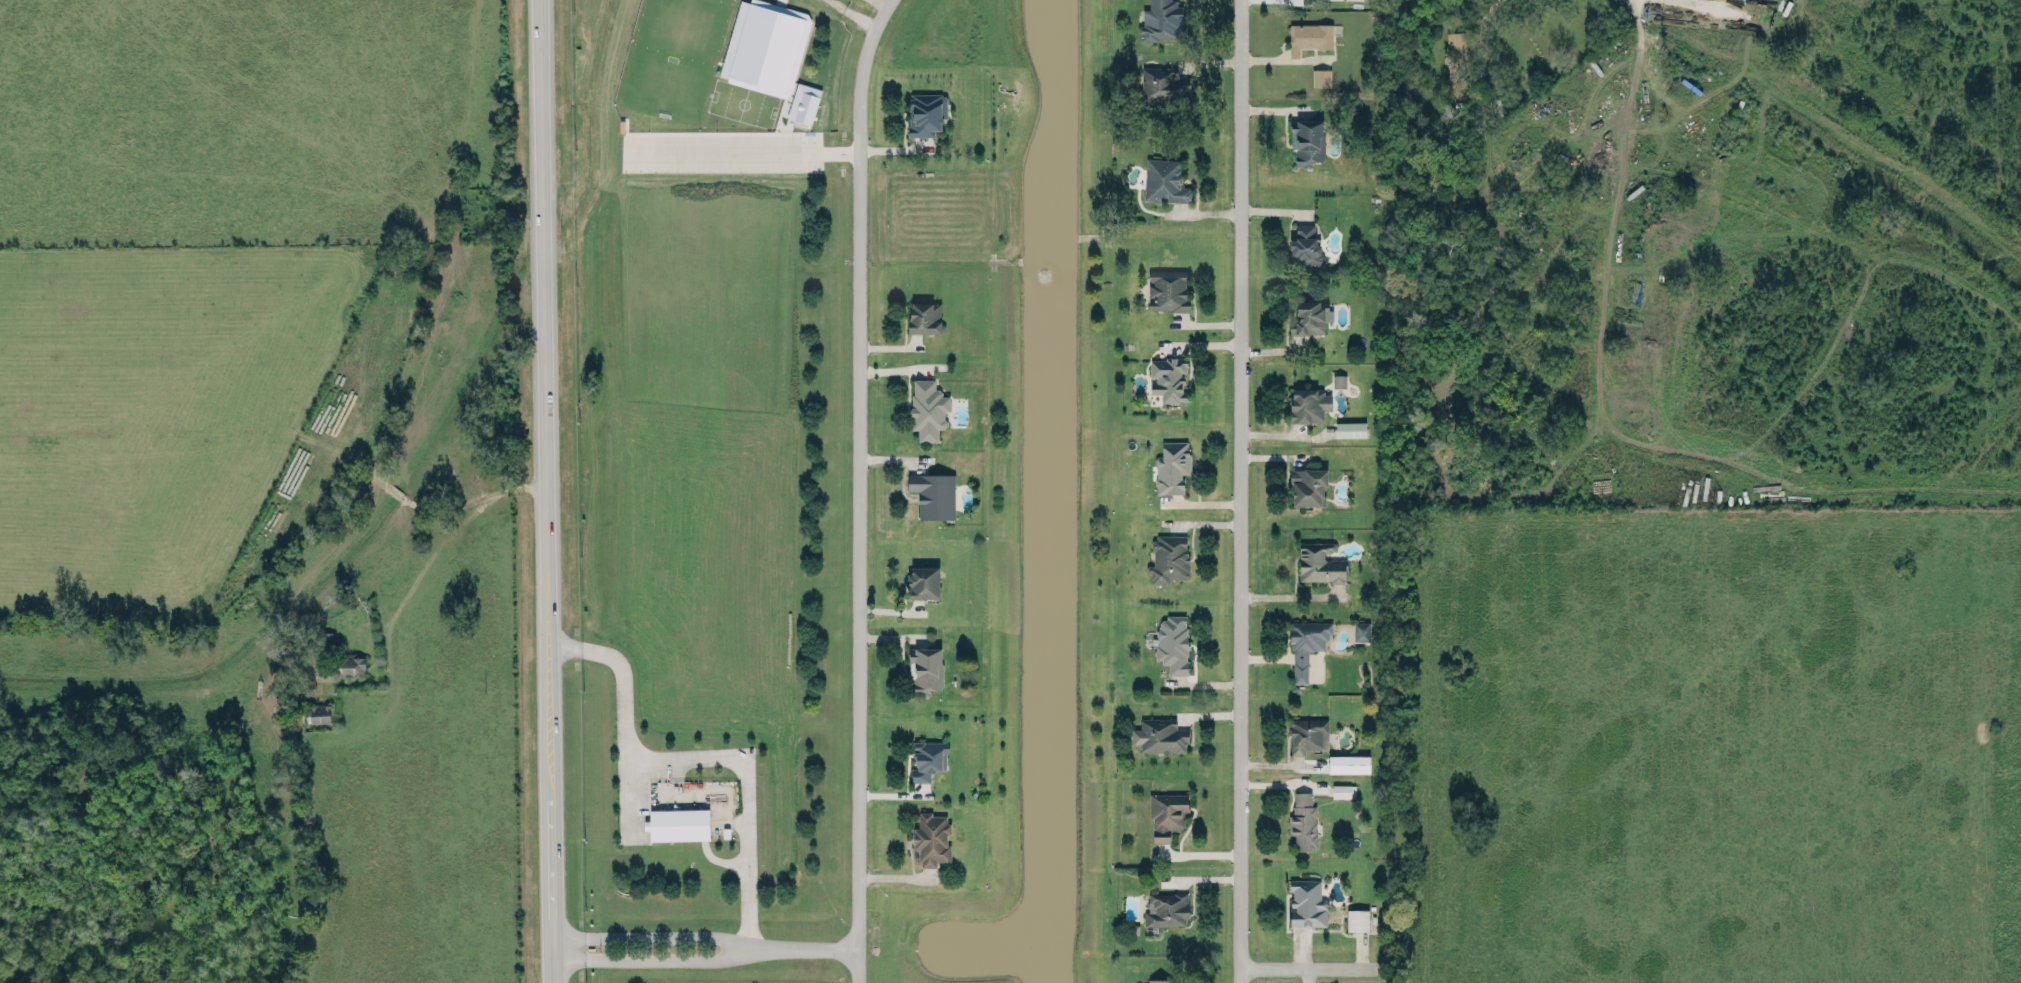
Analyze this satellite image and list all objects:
building: (1162, 20)
building: (1309, 36)
road: (1484, 43)
building: (1456, 60)
building: (1321, 76)
building: (1164, 83)
building: (804, 102)
building: (926, 112)
building: (1307, 140)
road: (745, 150)
building: (1164, 180)
building: (1304, 243)
building: (1168, 291)
building: (925, 316)
building: (1310, 316)
road: (545, 325)
building: (1168, 377)
building: (1339, 380)
building: (1308, 403)
building: (928, 408)
building: (1350, 428)
building: (1172, 466)
road: (857, 467)
building: (1308, 485)
road: (1243, 491)
building: (934, 493)
road: (440, 543)
building: (1169, 557)
building: (1319, 562)
building: (924, 581)
road: (1290, 595)
building: (1361, 631)
building: (1306, 641)
building: (1173, 643)
road: (1984, 664)
building: (925, 668)
building: (1307, 730)
building: (1160, 735)
road: (693, 757)
building: (928, 758)
building: (1348, 763)
building: (1343, 789)
road: (624, 796)
building: (1167, 814)
road: (552, 816)
building: (678, 820)
building: (1304, 820)
building: (932, 838)
building: (1306, 899)
building: (1166, 906)
building: (1357, 918)
road: (705, 946)
road: (855, 964)
road: (1305, 967)
building: (1157, 978)

